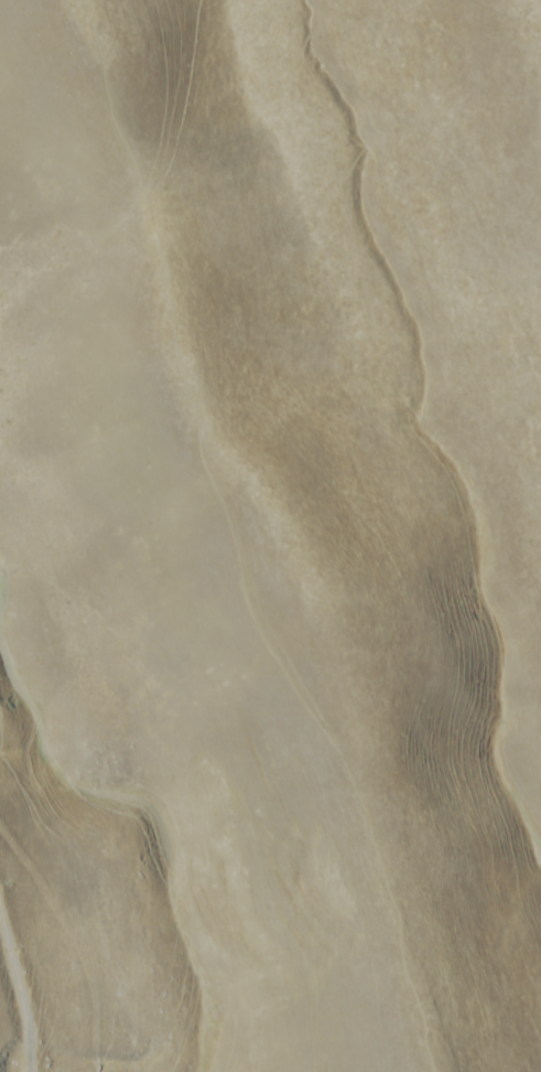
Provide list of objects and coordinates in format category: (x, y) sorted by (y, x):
road: (18, 999)

